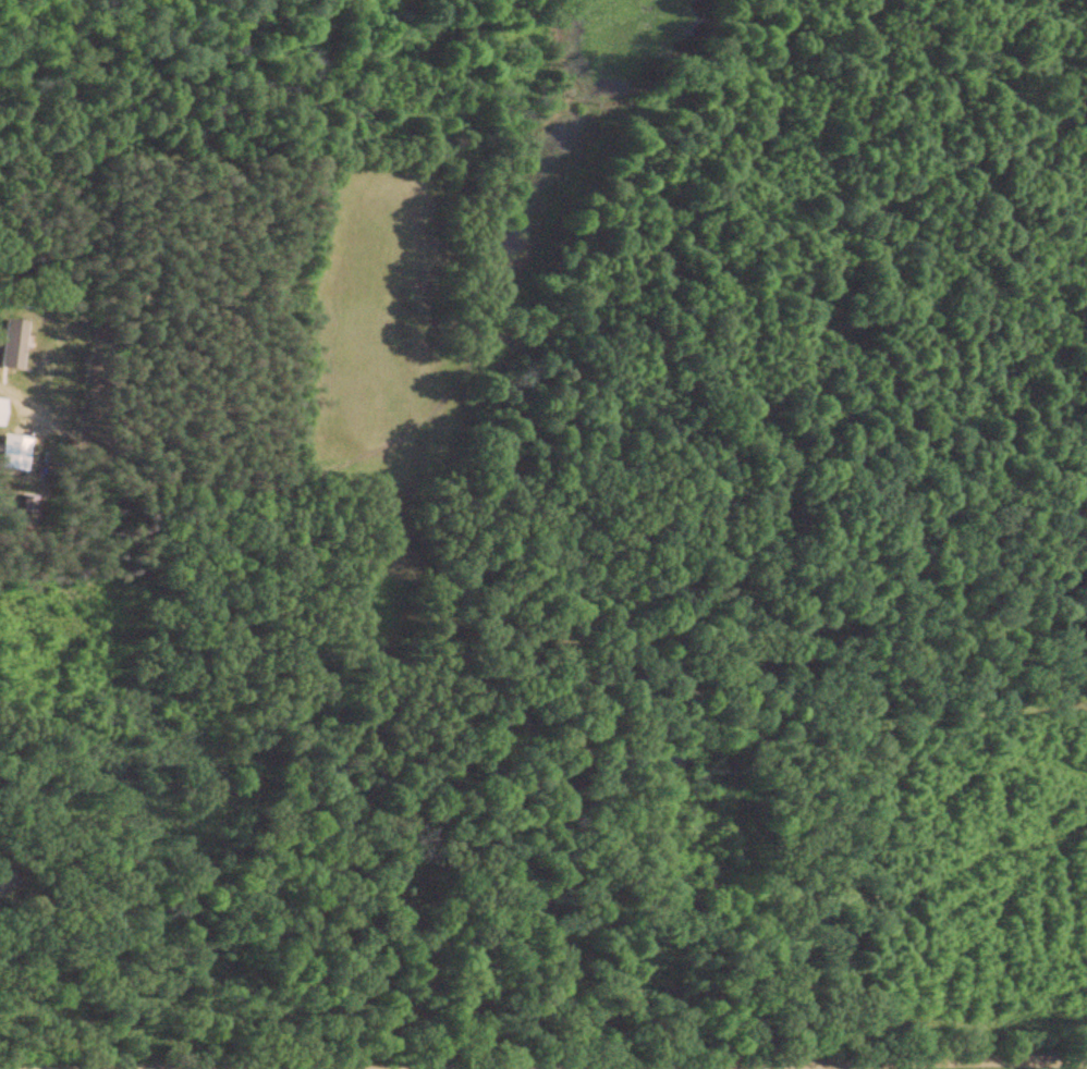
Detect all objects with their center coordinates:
road: (542, 1046)
road: (930, 1050)

